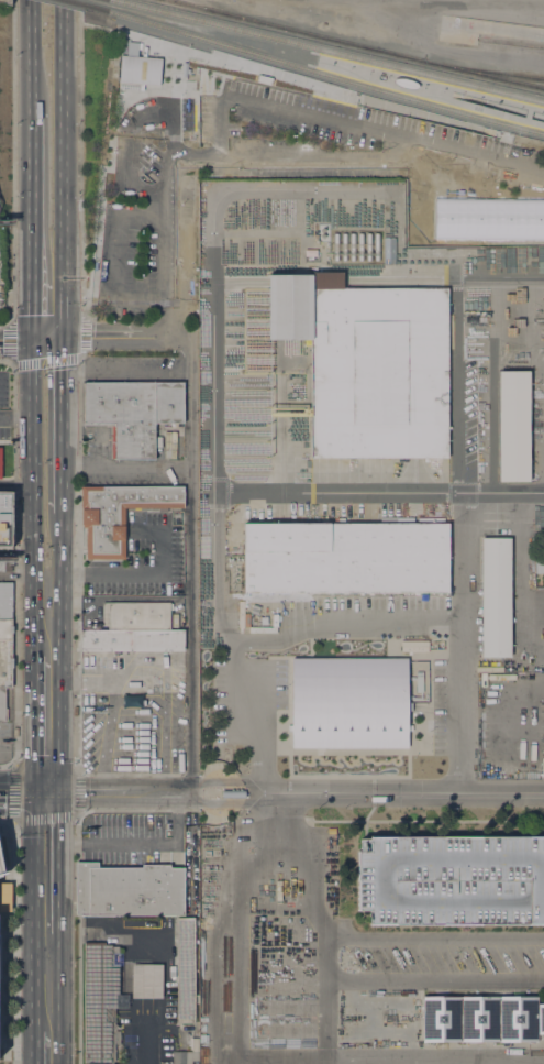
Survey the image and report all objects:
railway: (79, 1)
railway: (296, 30)
railway: (437, 36)
railway: (511, 41)
building: (144, 46)
road: (31, 53)
railway: (332, 53)
railway: (311, 61)
building: (137, 67)
building: (184, 68)
railway: (313, 69)
railway: (482, 69)
railway: (482, 74)
road: (195, 83)
road: (310, 87)
road: (195, 105)
road: (145, 112)
road: (351, 123)
road: (404, 146)
road: (504, 149)
road: (113, 150)
road: (395, 156)
road: (13, 158)
road: (195, 160)
road: (80, 165)
road: (60, 168)
road: (492, 191)
parking lot: (492, 211)
road: (32, 222)
road: (92, 242)
building: (336, 246)
building: (344, 246)
building: (353, 246)
building: (360, 246)
building: (368, 246)
building: (377, 246)
building: (310, 252)
road: (169, 253)
road: (103, 256)
building: (95, 264)
road: (96, 267)
road: (379, 273)
railway: (375, 281)
road: (170, 315)
road: (113, 337)
traffic signals: (57, 338)
road: (45, 339)
road: (15, 340)
traffic signals: (33, 340)
road: (45, 358)
building: (369, 364)
building: (131, 412)
road: (16, 414)
road: (215, 420)
road: (58, 426)
building: (512, 426)
road: (7, 439)
building: (1, 462)
road: (124, 463)
road: (16, 481)
road: (340, 492)
road: (34, 497)
building: (118, 514)
railway: (46, 531)
building: (0, 541)
building: (344, 557)
road: (189, 558)
road: (18, 560)
road: (76, 560)
building: (5, 561)
building: (540, 564)
road: (144, 569)
road: (18, 572)
building: (496, 596)
building: (5, 600)
road: (463, 602)
building: (268, 623)
road: (347, 625)
building: (133, 628)
building: (5, 651)
road: (60, 652)
building: (420, 681)
building: (2, 702)
building: (349, 702)
road: (35, 723)
road: (225, 782)
road: (18, 791)
traffic signals: (36, 791)
road: (48, 791)
traffic signals: (60, 791)
road: (101, 791)
road: (167, 791)
road: (402, 792)
building: (234, 793)
road: (226, 801)
road: (38, 815)
road: (60, 862)
building: (1, 866)
building: (448, 880)
parking lot: (448, 880)
road: (308, 881)
building: (129, 889)
road: (35, 910)
road: (233, 926)
road: (77, 937)
road: (373, 937)
road: (14, 942)
building: (186, 969)
road: (436, 979)
building: (147, 980)
building: (3, 992)
road: (62, 998)
building: (100, 1001)
building: (480, 1019)
road: (34, 1038)
building: (186, 1054)
road: (34, 1055)

